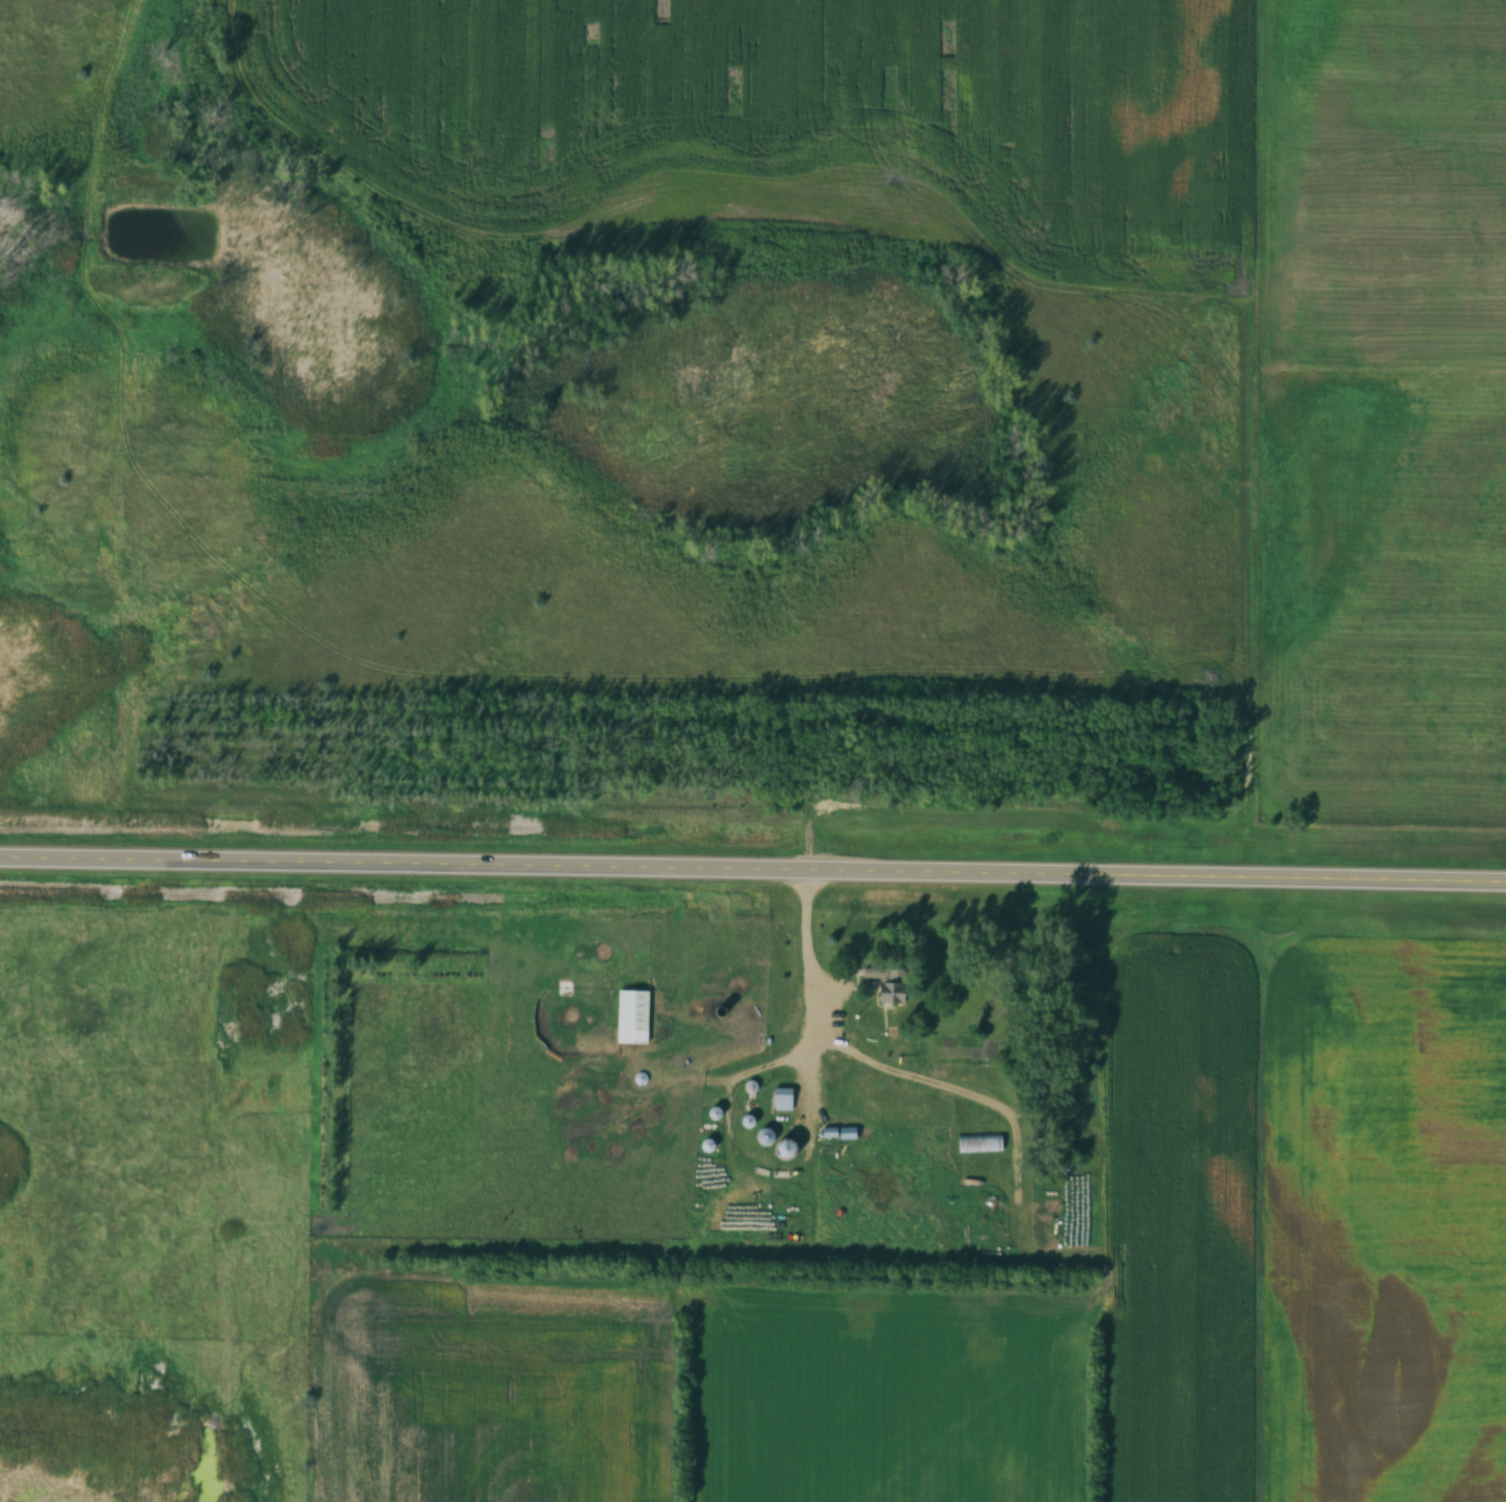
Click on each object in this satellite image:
road: (753, 872)
building: (889, 993)
building: (630, 1016)
building: (844, 1133)
building: (977, 1143)

